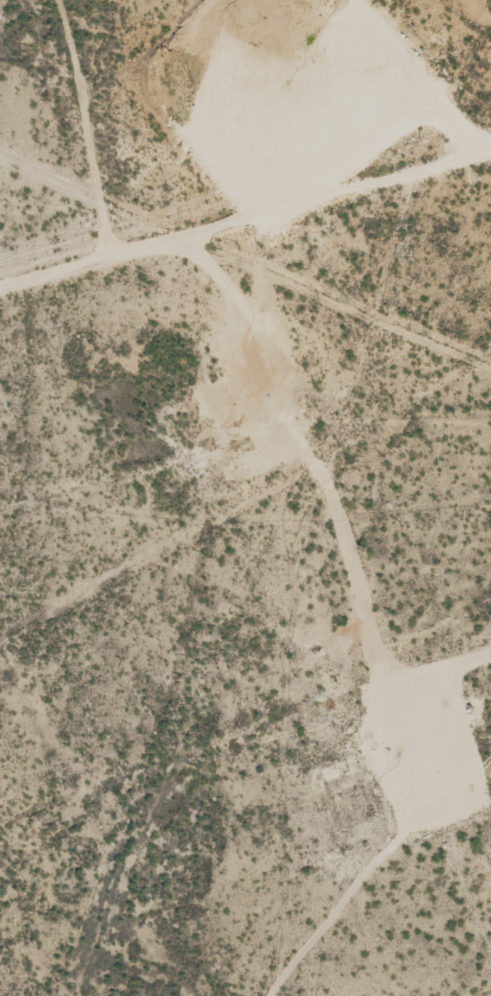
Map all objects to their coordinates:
road: (245, 204)

